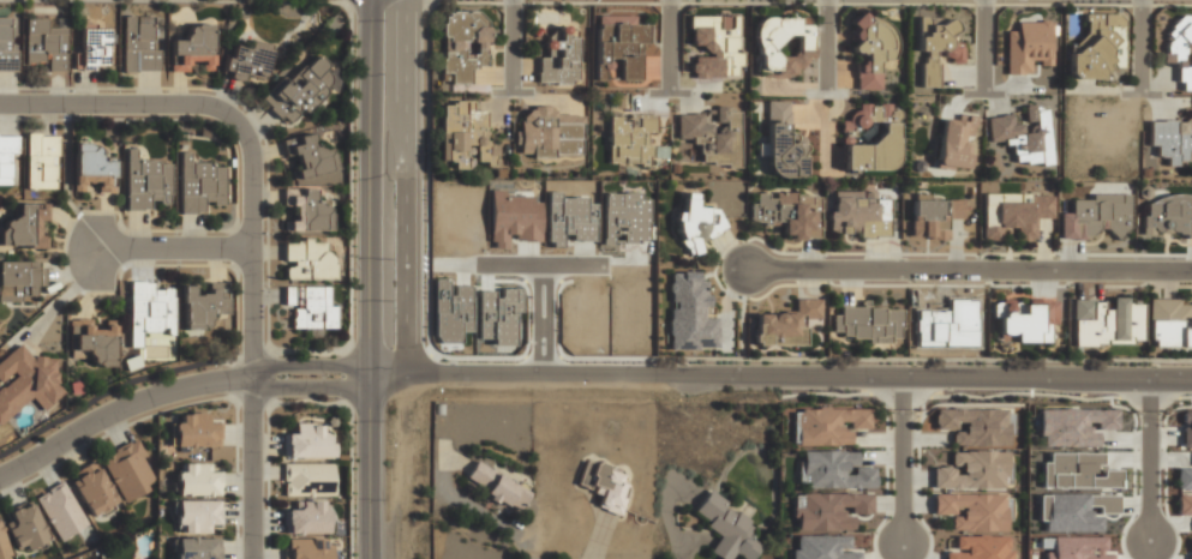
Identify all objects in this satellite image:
building: (46, 42)
road: (828, 42)
building: (462, 43)
building: (5, 44)
building: (137, 44)
road: (514, 44)
road: (672, 46)
building: (713, 46)
building: (779, 46)
road: (986, 46)
building: (1029, 46)
building: (1097, 46)
road: (1143, 46)
building: (191, 47)
building: (618, 47)
building: (935, 47)
building: (92, 48)
building: (871, 49)
building: (1181, 50)
building: (559, 56)
building: (244, 60)
building: (299, 90)
road: (120, 103)
building: (550, 132)
building: (713, 134)
building: (1024, 134)
building: (629, 136)
building: (467, 137)
building: (886, 137)
building: (1170, 140)
building: (781, 142)
building: (954, 143)
building: (309, 156)
building: (8, 157)
building: (41, 160)
building: (92, 167)
building: (144, 181)
building: (198, 184)
building: (305, 210)
building: (786, 212)
building: (1013, 214)
building: (857, 216)
building: (934, 216)
building: (1095, 216)
building: (1167, 216)
building: (624, 218)
building: (695, 224)
building: (24, 226)
road: (173, 248)
building: (307, 259)
road: (964, 270)
road: (370, 278)
building: (19, 279)
building: (202, 305)
building: (310, 307)
building: (149, 308)
building: (451, 311)
building: (688, 312)
building: (1024, 319)
building: (1107, 320)
building: (867, 323)
building: (1170, 323)
building: (785, 324)
road: (252, 337)
building: (92, 341)
road: (309, 366)
road: (780, 377)
building: (26, 381)
road: (312, 389)
road: (119, 411)
building: (827, 425)
building: (974, 426)
building: (1073, 426)
building: (1187, 428)
building: (193, 431)
building: (307, 441)
road: (902, 459)
road: (1152, 459)
building: (127, 470)
building: (972, 470)
building: (1076, 470)
building: (862, 477)
building: (1185, 477)
building: (307, 479)
building: (194, 480)
building: (604, 483)
building: (496, 487)
building: (92, 489)
building: (1185, 504)
building: (828, 510)
building: (60, 511)
building: (971, 511)
building: (1073, 511)
building: (193, 515)
building: (307, 518)
building: (725, 527)
building: (24, 528)
building: (4, 547)
building: (821, 547)
building: (982, 547)
building: (1077, 547)
building: (196, 548)
building: (306, 548)
building: (1191, 557)

